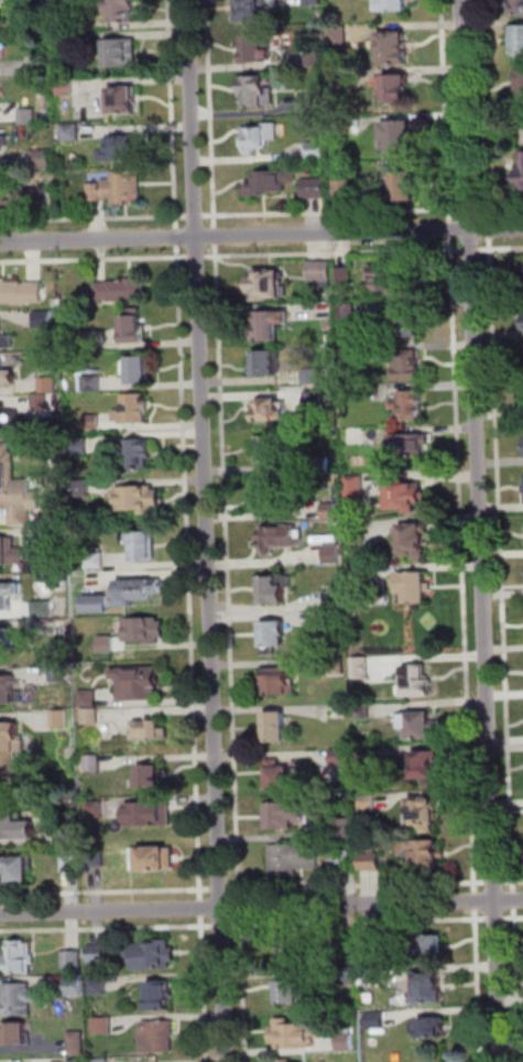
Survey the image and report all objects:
building: (37, 3)
building: (314, 3)
building: (394, 6)
building: (516, 7)
building: (121, 10)
building: (252, 11)
building: (1, 18)
building: (73, 23)
building: (338, 36)
building: (63, 41)
building: (520, 42)
building: (395, 48)
building: (258, 50)
building: (123, 54)
building: (314, 62)
building: (36, 66)
building: (339, 80)
building: (520, 86)
building: (67, 87)
building: (400, 91)
building: (259, 93)
building: (126, 101)
building: (314, 104)
road: (484, 110)
building: (29, 117)
building: (73, 132)
building: (261, 138)
building: (401, 138)
building: (3, 147)
building: (121, 151)
building: (318, 151)
building: (43, 159)
building: (522, 166)
building: (270, 183)
building: (405, 187)
building: (124, 188)
building: (316, 189)
building: (344, 189)
building: (96, 192)
building: (2, 195)
building: (26, 197)
road: (500, 208)
road: (472, 209)
road: (489, 228)
road: (261, 235)
road: (178, 241)
road: (500, 249)
road: (473, 250)
road: (193, 258)
road: (94, 259)
building: (322, 274)
building: (345, 277)
building: (400, 280)
building: (270, 288)
building: (123, 291)
building: (21, 294)
building: (348, 313)
building: (522, 316)
building: (44, 321)
building: (407, 324)
building: (271, 326)
building: (134, 332)
building: (6, 339)
building: (81, 340)
building: (350, 354)
building: (268, 365)
building: (406, 365)
building: (139, 370)
building: (8, 377)
building: (313, 377)
building: (91, 383)
building: (50, 387)
building: (353, 392)
building: (314, 399)
building: (41, 403)
building: (410, 407)
building: (133, 410)
building: (272, 412)
building: (10, 420)
building: (92, 422)
building: (81, 447)
building: (411, 448)
building: (271, 452)
building: (139, 454)
building: (322, 466)
building: (356, 487)
building: (15, 490)
building: (81, 490)
building: (407, 498)
building: (140, 500)
building: (271, 500)
building: (331, 511)
building: (57, 516)
road: (207, 530)
road: (480, 530)
building: (58, 538)
building: (280, 540)
building: (415, 542)
building: (143, 546)
building: (11, 553)
building: (334, 554)
building: (96, 562)
road: (502, 564)
road: (190, 572)
building: (366, 576)
building: (414, 589)
building: (140, 593)
building: (274, 593)
building: (9, 596)
building: (335, 597)
building: (100, 606)
building: (43, 610)
building: (335, 620)
building: (59, 628)
building: (146, 631)
building: (275, 636)
building: (7, 640)
building: (107, 644)
building: (337, 667)
building: (361, 669)
building: (139, 683)
building: (418, 683)
building: (280, 684)
building: (8, 691)
building: (89, 698)
building: (362, 712)
building: (91, 717)
building: (62, 719)
building: (421, 727)
building: (279, 729)
building: (152, 732)
building: (10, 750)
building: (340, 757)
building: (366, 761)
building: (94, 763)
building: (427, 768)
building: (151, 778)
building: (283, 779)
building: (369, 804)
building: (97, 810)
building: (151, 815)
building: (426, 815)
building: (287, 816)
building: (348, 826)
building: (17, 830)
building: (69, 837)
building: (423, 855)
building: (292, 860)
building: (155, 861)
building: (371, 863)
building: (344, 864)
building: (72, 865)
building: (18, 870)
road: (493, 882)
road: (512, 882)
road: (358, 886)
road: (221, 890)
road: (106, 892)
road: (513, 900)
road: (261, 907)
road: (203, 909)
road: (494, 919)
road: (512, 919)
road: (359, 922)
road: (221, 924)
road: (107, 930)
building: (423, 947)
building: (99, 956)
building: (157, 957)
building: (20, 960)
building: (74, 961)
building: (371, 974)
building: (427, 986)
road: (516, 986)
building: (74, 987)
building: (99, 987)
road: (205, 989)
building: (290, 991)
building: (162, 998)
building: (21, 1000)
building: (373, 1018)
building: (427, 1025)
building: (105, 1027)
building: (291, 1032)
building: (19, 1036)
building: (160, 1037)
building: (341, 1039)
building: (78, 1044)
building: (283, 1060)
building: (78, 1061)
building: (102, 1061)
building: (292, 1061)

